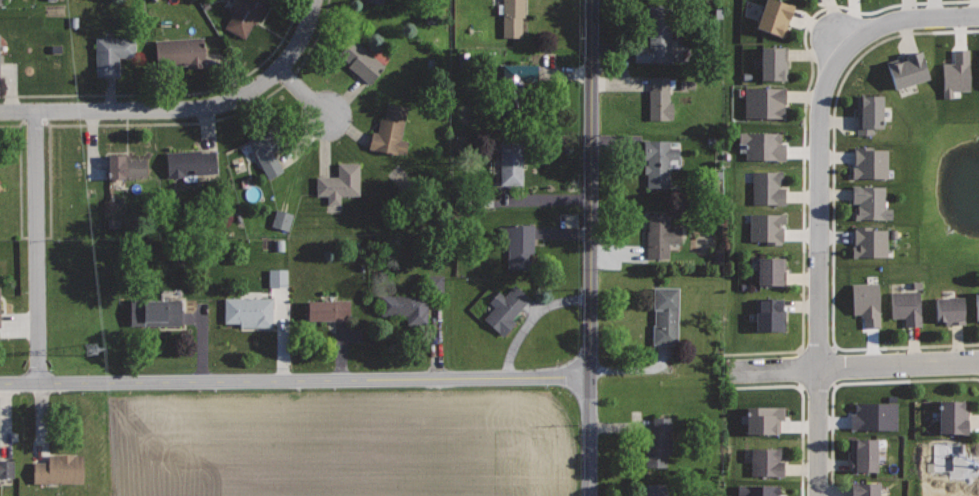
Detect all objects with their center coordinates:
building: (375, 1)
building: (2, 2)
building: (245, 14)
building: (774, 16)
building: (513, 18)
road: (314, 37)
building: (656, 42)
building: (181, 52)
building: (113, 53)
building: (362, 60)
building: (773, 63)
building: (908, 69)
building: (957, 73)
road: (287, 79)
building: (515, 84)
road: (303, 92)
road: (170, 94)
building: (660, 98)
building: (765, 102)
road: (184, 108)
building: (869, 113)
road: (112, 123)
road: (803, 129)
building: (390, 131)
building: (762, 145)
building: (268, 149)
building: (193, 162)
building: (659, 162)
building: (512, 163)
building: (870, 163)
building: (125, 166)
road: (19, 171)
building: (339, 182)
building: (0, 187)
building: (768, 188)
road: (819, 197)
building: (871, 203)
road: (832, 207)
building: (280, 220)
building: (768, 228)
building: (660, 236)
building: (870, 242)
building: (520, 245)
road: (37, 247)
road: (591, 248)
building: (771, 271)
building: (275, 278)
building: (433, 283)
building: (865, 303)
building: (977, 304)
building: (406, 306)
building: (908, 306)
building: (506, 308)
building: (950, 309)
building: (329, 310)
building: (155, 311)
building: (249, 311)
building: (769, 313)
building: (0, 314)
building: (666, 314)
road: (819, 345)
power tower: (91, 348)
road: (854, 366)
road: (834, 367)
road: (795, 369)
road: (295, 380)
road: (851, 382)
road: (815, 390)
road: (801, 408)
building: (872, 417)
building: (953, 418)
building: (764, 420)
building: (658, 441)
building: (864, 455)
building: (950, 460)
building: (768, 461)
building: (7, 468)
building: (59, 469)
building: (655, 489)
building: (865, 489)
building: (756, 491)
building: (951, 494)

